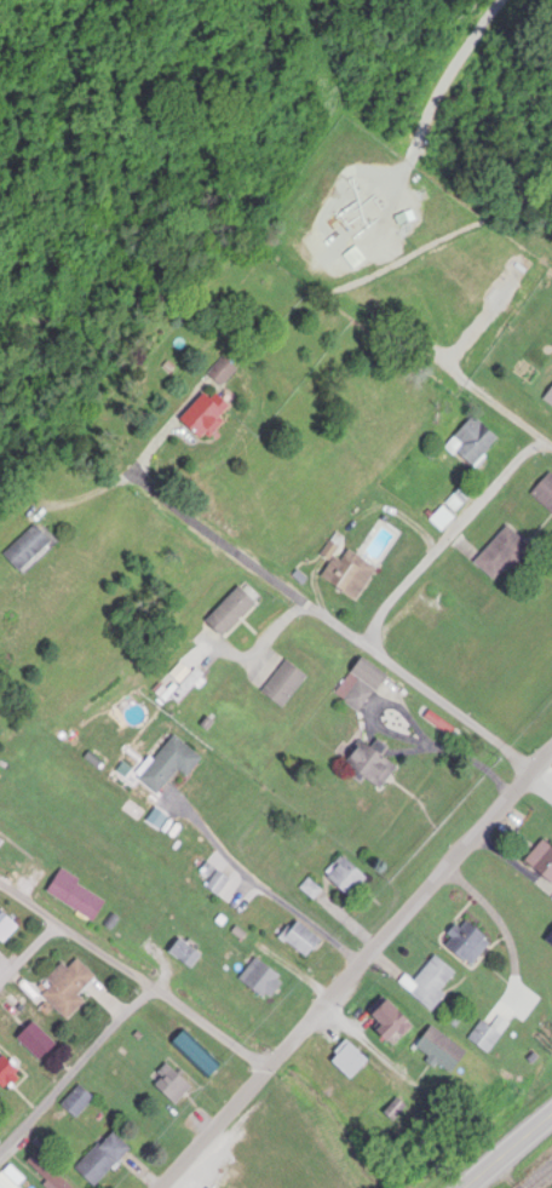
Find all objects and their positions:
road: (426, 103)
building: (316, 245)
building: (220, 374)
road: (459, 377)
building: (548, 400)
building: (203, 419)
building: (472, 444)
building: (544, 494)
road: (449, 540)
building: (24, 550)
building: (501, 557)
building: (347, 576)
building: (229, 614)
road: (337, 625)
building: (282, 687)
building: (358, 687)
building: (168, 768)
building: (368, 769)
building: (541, 863)
building: (344, 878)
building: (217, 885)
road: (27, 897)
building: (74, 897)
building: (5, 930)
building: (298, 940)
building: (465, 943)
road: (27, 945)
building: (183, 955)
road: (358, 971)
building: (259, 981)
building: (67, 989)
road: (159, 992)
building: (159, 1020)
building: (387, 1023)
building: (487, 1035)
building: (34, 1041)
building: (438, 1050)
building: (192, 1055)
building: (346, 1061)
road: (77, 1072)
building: (7, 1077)
building: (169, 1085)
building: (76, 1102)
road: (518, 1159)
building: (100, 1160)
building: (54, 1181)
building: (5, 1182)
railway: (545, 1182)

